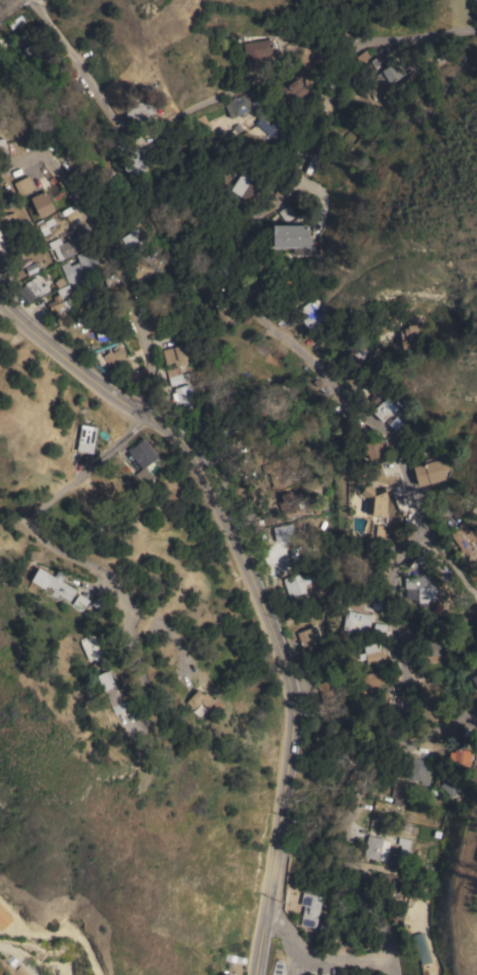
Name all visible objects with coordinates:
road: (7, 6)
park: (370, 15)
road: (321, 19)
road: (300, 37)
road: (413, 38)
road: (326, 39)
building: (36, 50)
building: (259, 52)
building: (364, 58)
building: (389, 76)
building: (293, 88)
building: (238, 105)
road: (328, 108)
building: (140, 110)
building: (201, 122)
road: (156, 123)
road: (146, 129)
road: (149, 137)
building: (3, 148)
building: (74, 157)
building: (133, 161)
building: (226, 170)
building: (23, 185)
building: (247, 186)
building: (42, 203)
building: (288, 212)
road: (97, 228)
building: (291, 236)
building: (11, 240)
building: (132, 244)
building: (69, 246)
road: (246, 266)
building: (81, 267)
building: (35, 288)
building: (59, 299)
building: (223, 310)
building: (311, 313)
building: (2, 332)
building: (410, 337)
building: (173, 348)
building: (357, 354)
building: (114, 356)
building: (175, 376)
road: (143, 381)
building: (376, 393)
building: (184, 396)
building: (382, 411)
road: (437, 414)
building: (259, 429)
road: (381, 430)
building: (86, 439)
building: (373, 448)
building: (262, 456)
building: (143, 459)
building: (279, 470)
building: (431, 472)
building: (291, 499)
building: (372, 502)
building: (466, 540)
building: (281, 542)
road: (70, 555)
building: (422, 561)
road: (451, 563)
building: (297, 586)
building: (423, 586)
building: (56, 588)
road: (255, 588)
building: (80, 602)
building: (356, 622)
building: (380, 627)
building: (308, 636)
road: (154, 646)
building: (90, 649)
building: (433, 651)
building: (374, 654)
building: (475, 671)
building: (373, 682)
building: (474, 683)
building: (111, 692)
building: (201, 700)
road: (441, 730)
building: (460, 756)
road: (393, 759)
building: (420, 770)
building: (450, 785)
building: (403, 792)
building: (403, 838)
building: (376, 847)
building: (310, 909)
building: (4, 917)
building: (419, 949)
road: (20, 958)
road: (317, 959)
road: (298, 962)
building: (277, 967)
building: (235, 968)

